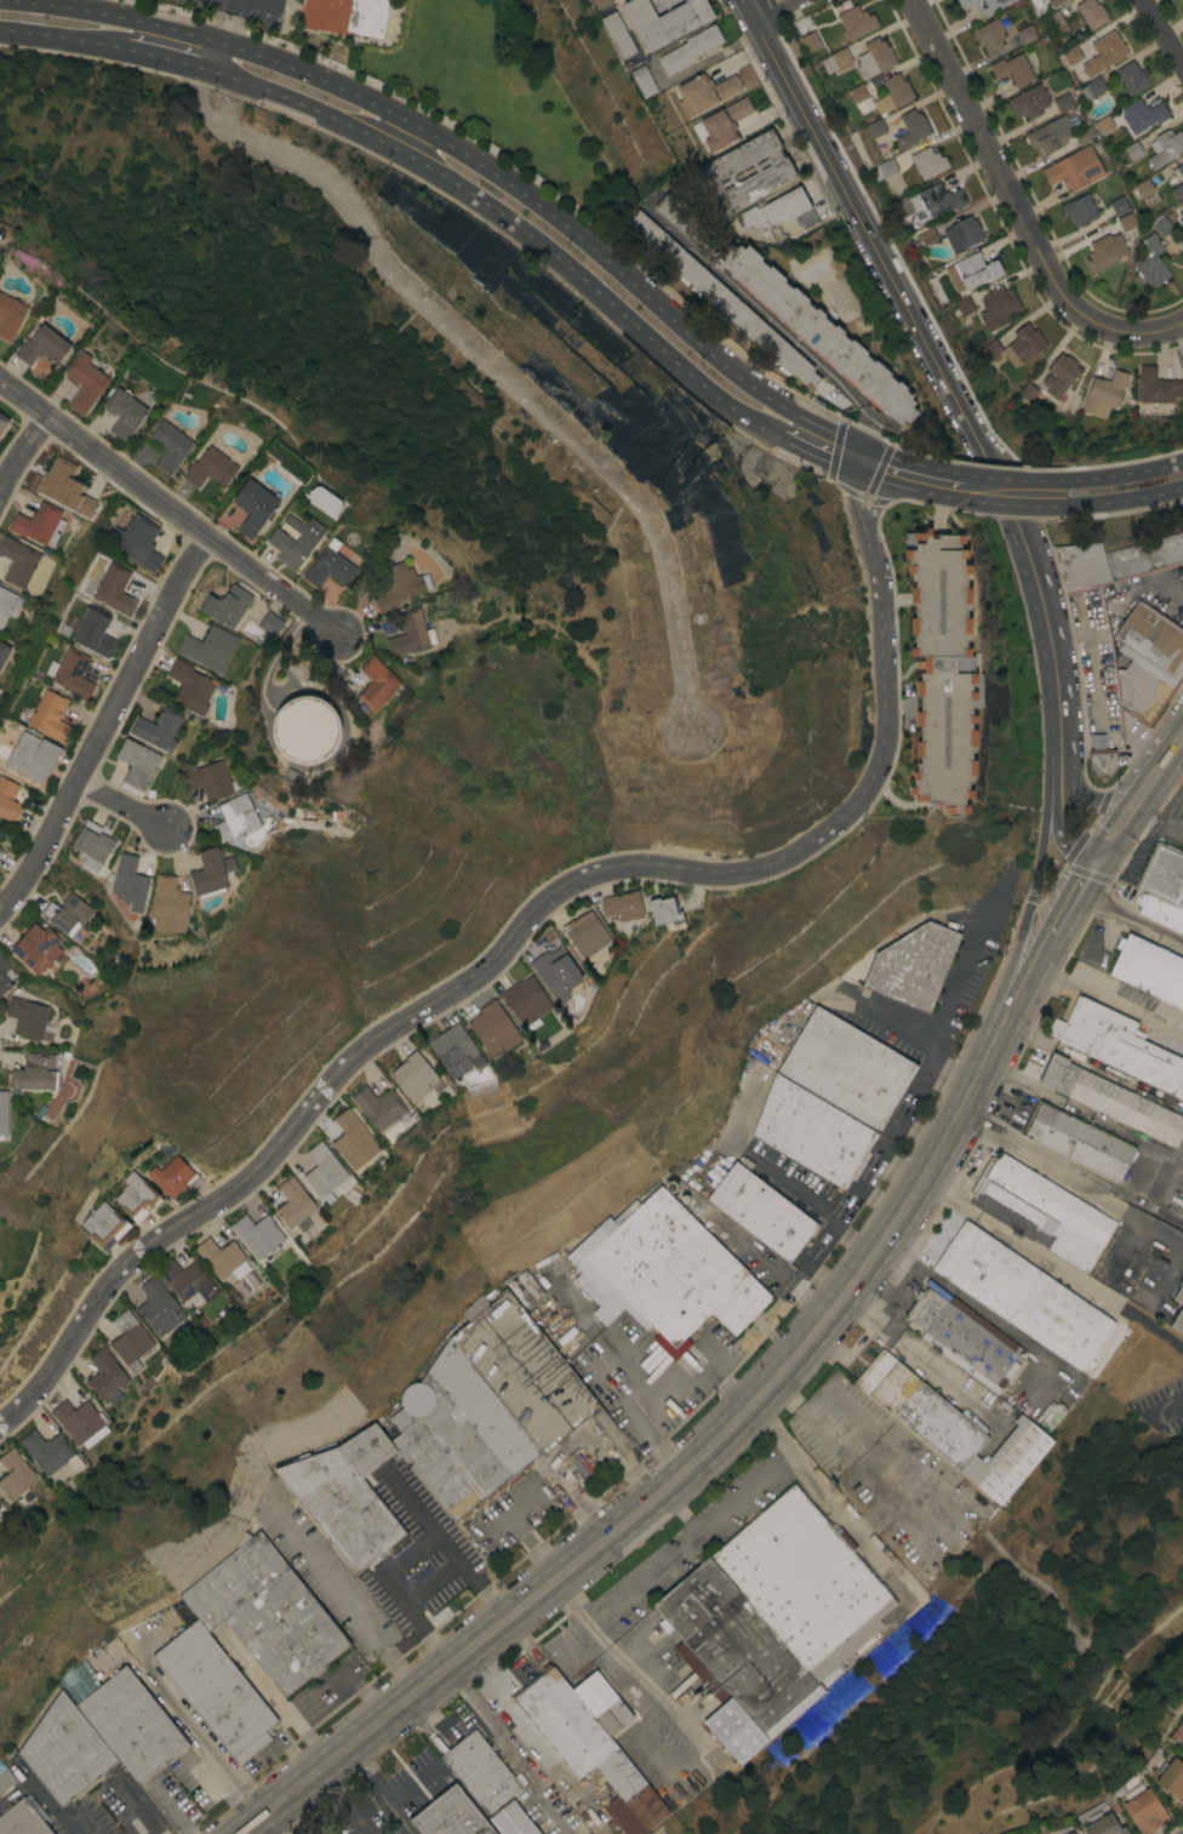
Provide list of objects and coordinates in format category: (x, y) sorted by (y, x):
building: (1182, 0)
building: (599, 2)
road: (615, 2)
building: (1036, 2)
building: (1055, 2)
building: (662, 4)
building: (983, 5)
parking lot: (247, 8)
road: (770, 8)
building: (1091, 12)
building: (345, 16)
building: (665, 19)
building: (853, 19)
road: (224, 21)
building: (1055, 22)
road: (1161, 32)
building: (1025, 33)
building: (617, 34)
building: (989, 35)
road: (62, 38)
building: (810, 41)
building: (688, 48)
building: (1103, 53)
building: (1070, 55)
road: (216, 57)
building: (874, 57)
road: (167, 59)
building: (835, 59)
building: (1012, 69)
building: (1131, 76)
building: (642, 80)
building: (1092, 87)
building: (892, 92)
building: (704, 93)
building: (861, 98)
building: (1028, 102)
building: (1063, 102)
road: (205, 103)
road: (232, 103)
building: (1142, 114)
building: (720, 124)
building: (1103, 124)
building: (876, 127)
building: (911, 127)
building: (1050, 135)
building: (1085, 135)
building: (1165, 147)
building: (1132, 150)
road: (474, 160)
building: (927, 161)
building: (882, 168)
building: (1074, 168)
building: (1178, 171)
building: (773, 172)
road: (1001, 178)
building: (1143, 187)
building: (1178, 190)
building: (933, 200)
building: (1118, 205)
building: (902, 207)
building: (1079, 210)
building: (1181, 210)
building: (773, 211)
building: (679, 216)
building: (1182, 221)
road: (510, 223)
building: (1127, 223)
building: (1161, 224)
building: (961, 233)
building: (927, 235)
building: (1105, 250)
building: (1150, 261)
building: (838, 265)
building: (971, 270)
building: (719, 297)
building: (962, 305)
building: (998, 307)
building: (10, 315)
road: (772, 319)
building: (818, 331)
road: (1151, 333)
building: (1023, 344)
building: (42, 345)
building: (990, 349)
road: (930, 350)
building: (1059, 375)
building: (85, 381)
building: (1155, 385)
road: (521, 389)
building: (1103, 393)
building: (1030, 394)
building: (124, 412)
building: (2, 421)
building: (170, 445)
traffic signals: (861, 447)
road: (22, 451)
road: (812, 455)
road: (857, 459)
road: (908, 463)
building: (210, 467)
traffic signals: (853, 472)
road: (874, 478)
road: (1105, 478)
road: (991, 479)
building: (64, 487)
road: (925, 492)
road: (1110, 502)
road: (996, 504)
building: (253, 505)
road: (853, 507)
road: (166, 508)
road: (873, 508)
building: (35, 522)
building: (295, 539)
building: (137, 541)
building: (21, 562)
building: (330, 567)
building: (399, 585)
building: (114, 588)
building: (8, 604)
building: (224, 605)
building: (268, 622)
building: (95, 632)
building: (410, 633)
building: (1120, 641)
building: (210, 647)
building: (4, 651)
building: (942, 669)
building: (70, 672)
building: (376, 682)
building: (189, 686)
building: (50, 715)
road: (1175, 718)
road: (105, 726)
building: (158, 729)
building: (305, 729)
storage tank: (305, 729)
building: (33, 756)
road: (1142, 762)
building: (136, 765)
road: (1079, 773)
building: (210, 779)
road: (1058, 798)
building: (8, 799)
road: (122, 807)
road: (1143, 809)
building: (234, 817)
road: (1104, 827)
road: (1160, 827)
building: (92, 844)
road: (1136, 849)
road: (1039, 868)
building: (210, 872)
building: (1164, 874)
building: (128, 882)
road: (1074, 895)
building: (167, 904)
building: (622, 905)
road: (1119, 909)
building: (1160, 912)
building: (67, 914)
building: (585, 932)
road: (1171, 935)
building: (36, 947)
road: (493, 958)
building: (913, 964)
building: (1149, 969)
building: (556, 972)
road: (1033, 973)
building: (5, 975)
road: (949, 992)
building: (526, 1001)
road: (1109, 1001)
building: (27, 1017)
road: (893, 1025)
building: (493, 1028)
building: (1118, 1045)
building: (455, 1050)
building: (847, 1068)
building: (38, 1072)
building: (413, 1074)
road: (919, 1075)
building: (1110, 1099)
building: (378, 1107)
building: (2, 1112)
building: (812, 1131)
building: (353, 1139)
building: (1079, 1141)
road: (1048, 1167)
building: (322, 1169)
building: (171, 1175)
road: (788, 1179)
building: (136, 1195)
road: (880, 1200)
building: (293, 1202)
building: (761, 1210)
road: (836, 1210)
building: (1040, 1210)
road: (842, 1212)
building: (103, 1224)
road: (1138, 1230)
building: (259, 1235)
road: (855, 1240)
building: (222, 1257)
road: (1051, 1267)
building: (670, 1272)
road: (1171, 1272)
building: (188, 1285)
building: (1022, 1295)
building: (158, 1305)
road: (981, 1309)
building: (1178, 1309)
road: (821, 1326)
building: (965, 1337)
building: (128, 1339)
building: (104, 1372)
road: (658, 1387)
building: (487, 1406)
road: (1160, 1407)
building: (1050, 1415)
building: (80, 1422)
building: (953, 1428)
building: (50, 1451)
building: (15, 1473)
building: (33, 1490)
building: (345, 1495)
road: (678, 1510)
road: (508, 1514)
road: (707, 1520)
road: (845, 1522)
road: (532, 1548)
road: (339, 1594)
building: (267, 1612)
road: (578, 1613)
building: (772, 1618)
building: (216, 1690)
road: (658, 1697)
road: (473, 1699)
road: (280, 1704)
road: (400, 1707)
building: (131, 1724)
road: (198, 1738)
building: (590, 1742)
building: (1181, 1746)
building: (64, 1750)
building: (480, 1769)
building: (5, 1777)
building: (1171, 1777)
road: (531, 1782)
road: (349, 1801)
road: (387, 1802)
building: (1143, 1809)
building: (450, 1815)
road: (144, 1817)
road: (298, 1817)
building: (23, 1818)
building: (512, 1819)
building: (1102, 1824)
building: (1069, 1833)

